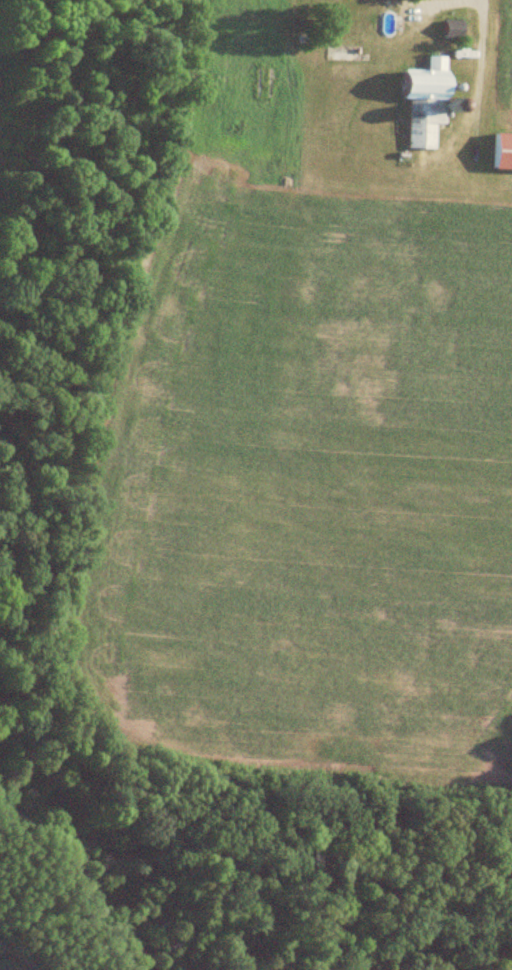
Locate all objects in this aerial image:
road: (460, 4)
building: (450, 29)
building: (423, 102)
building: (501, 151)

